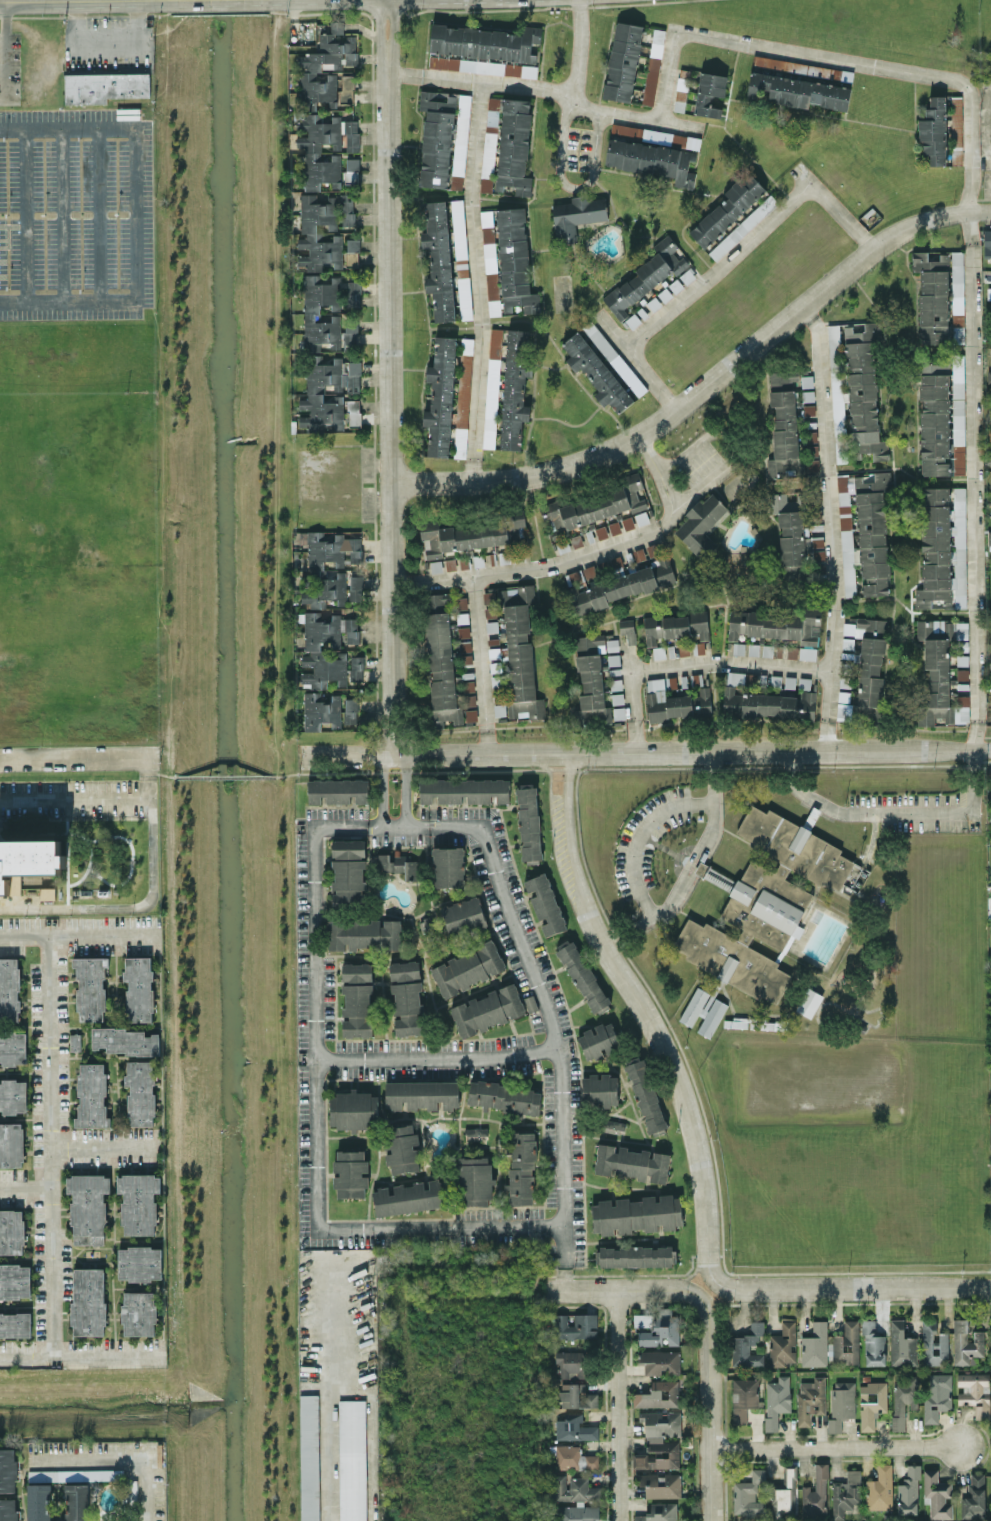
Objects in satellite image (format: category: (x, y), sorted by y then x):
road: (85, 0)
road: (106, 38)
road: (5, 48)
building: (484, 50)
building: (623, 61)
road: (605, 65)
building: (325, 66)
building: (802, 68)
building: (651, 76)
building: (103, 87)
building: (346, 89)
road: (548, 89)
building: (798, 91)
building: (680, 93)
building: (709, 93)
building: (493, 110)
road: (822, 114)
road: (915, 118)
road: (712, 124)
road: (730, 132)
building: (933, 132)
building: (638, 133)
building: (444, 138)
road: (561, 140)
road: (987, 143)
building: (514, 146)
building: (312, 152)
building: (652, 160)
building: (351, 169)
building: (487, 169)
building: (728, 208)
building: (346, 210)
parking lot: (77, 213)
road: (23, 214)
road: (63, 214)
road: (98, 214)
road: (136, 214)
building: (576, 215)
building: (741, 228)
building: (459, 229)
building: (318, 233)
road: (751, 238)
building: (987, 243)
building: (353, 244)
building: (438, 259)
building: (515, 261)
building: (490, 264)
building: (645, 276)
building: (957, 277)
road: (478, 280)
building: (933, 296)
building: (312, 312)
road: (635, 363)
road: (969, 367)
building: (595, 371)
building: (989, 376)
road: (391, 377)
building: (464, 377)
building: (507, 386)
road: (710, 387)
building: (327, 391)
building: (863, 392)
building: (440, 396)
building: (354, 412)
building: (936, 422)
building: (783, 424)
road: (701, 481)
building: (596, 506)
building: (627, 522)
building: (700, 524)
road: (829, 525)
building: (517, 528)
building: (603, 531)
building: (873, 533)
building: (461, 536)
building: (989, 537)
building: (793, 538)
building: (846, 540)
building: (942, 548)
road: (584, 552)
building: (616, 563)
building: (435, 566)
building: (315, 568)
building: (615, 586)
building: (355, 587)
building: (438, 601)
building: (675, 626)
building: (779, 627)
building: (627, 629)
building: (517, 647)
building: (691, 648)
building: (312, 649)
building: (752, 649)
building: (658, 652)
road: (730, 661)
road: (481, 662)
building: (990, 662)
building: (356, 668)
building: (441, 670)
building: (870, 671)
building: (939, 675)
building: (735, 677)
building: (590, 682)
building: (655, 699)
road: (631, 700)
building: (702, 703)
building: (769, 704)
building: (679, 705)
building: (320, 710)
building: (350, 710)
building: (990, 716)
road: (777, 750)
road: (433, 754)
road: (75, 758)
road: (151, 767)
road: (418, 770)
road: (163, 773)
road: (224, 776)
road: (380, 789)
road: (405, 789)
building: (464, 790)
building: (337, 791)
road: (76, 797)
building: (528, 822)
road: (398, 824)
road: (640, 834)
building: (27, 861)
building: (397, 864)
building: (448, 866)
road: (693, 868)
building: (348, 869)
building: (545, 904)
road: (137, 905)
building: (761, 906)
road: (313, 913)
building: (463, 916)
building: (363, 933)
road: (79, 936)
building: (468, 967)
building: (356, 972)
building: (583, 976)
building: (90, 987)
building: (138, 988)
building: (9, 989)
building: (406, 997)
building: (808, 1001)
building: (357, 1009)
building: (487, 1010)
building: (703, 1011)
road: (646, 1013)
building: (123, 1040)
building: (598, 1040)
building: (12, 1048)
road: (437, 1056)
building: (599, 1090)
building: (140, 1092)
building: (421, 1094)
building: (11, 1095)
building: (91, 1095)
building: (646, 1095)
building: (505, 1096)
building: (353, 1109)
building: (613, 1126)
building: (475, 1131)
building: (10, 1145)
road: (50, 1146)
road: (104, 1148)
building: (401, 1148)
building: (632, 1162)
building: (522, 1168)
building: (350, 1173)
building: (473, 1181)
road: (26, 1187)
building: (410, 1197)
building: (138, 1202)
road: (566, 1202)
building: (87, 1207)
building: (636, 1214)
building: (11, 1232)
road: (707, 1255)
building: (635, 1256)
road: (567, 1257)
building: (139, 1265)
road: (691, 1265)
road: (629, 1273)
road: (692, 1273)
building: (14, 1280)
road: (852, 1286)
road: (621, 1288)
building: (88, 1301)
road: (722, 1302)
building: (139, 1313)
road: (329, 1319)
building: (643, 1320)
building: (15, 1324)
building: (575, 1326)
building: (661, 1329)
building: (966, 1343)
building: (846, 1344)
building: (873, 1344)
building: (901, 1344)
building: (934, 1344)
building: (782, 1345)
building: (815, 1345)
building: (747, 1346)
road: (81, 1356)
building: (660, 1362)
building: (571, 1364)
building: (975, 1393)
building: (659, 1394)
building: (576, 1396)
building: (937, 1396)
building: (744, 1397)
building: (903, 1398)
building: (810, 1399)
building: (776, 1400)
building: (841, 1403)
building: (871, 1403)
road: (617, 1405)
road: (710, 1409)
building: (575, 1428)
road: (370, 1434)
building: (659, 1440)
road: (836, 1445)
road: (330, 1451)
building: (309, 1457)
road: (119, 1458)
building: (574, 1458)
building: (352, 1459)
building: (8, 1470)
building: (104, 1474)
building: (661, 1485)
building: (572, 1488)
building: (880, 1488)
building: (908, 1491)
building: (846, 1493)
building: (815, 1494)
building: (937, 1494)
building: (748, 1495)
building: (784, 1495)
building: (974, 1497)
building: (76, 1501)
building: (38, 1502)
building: (8, 1509)
building: (577, 1512)
building: (659, 1512)

